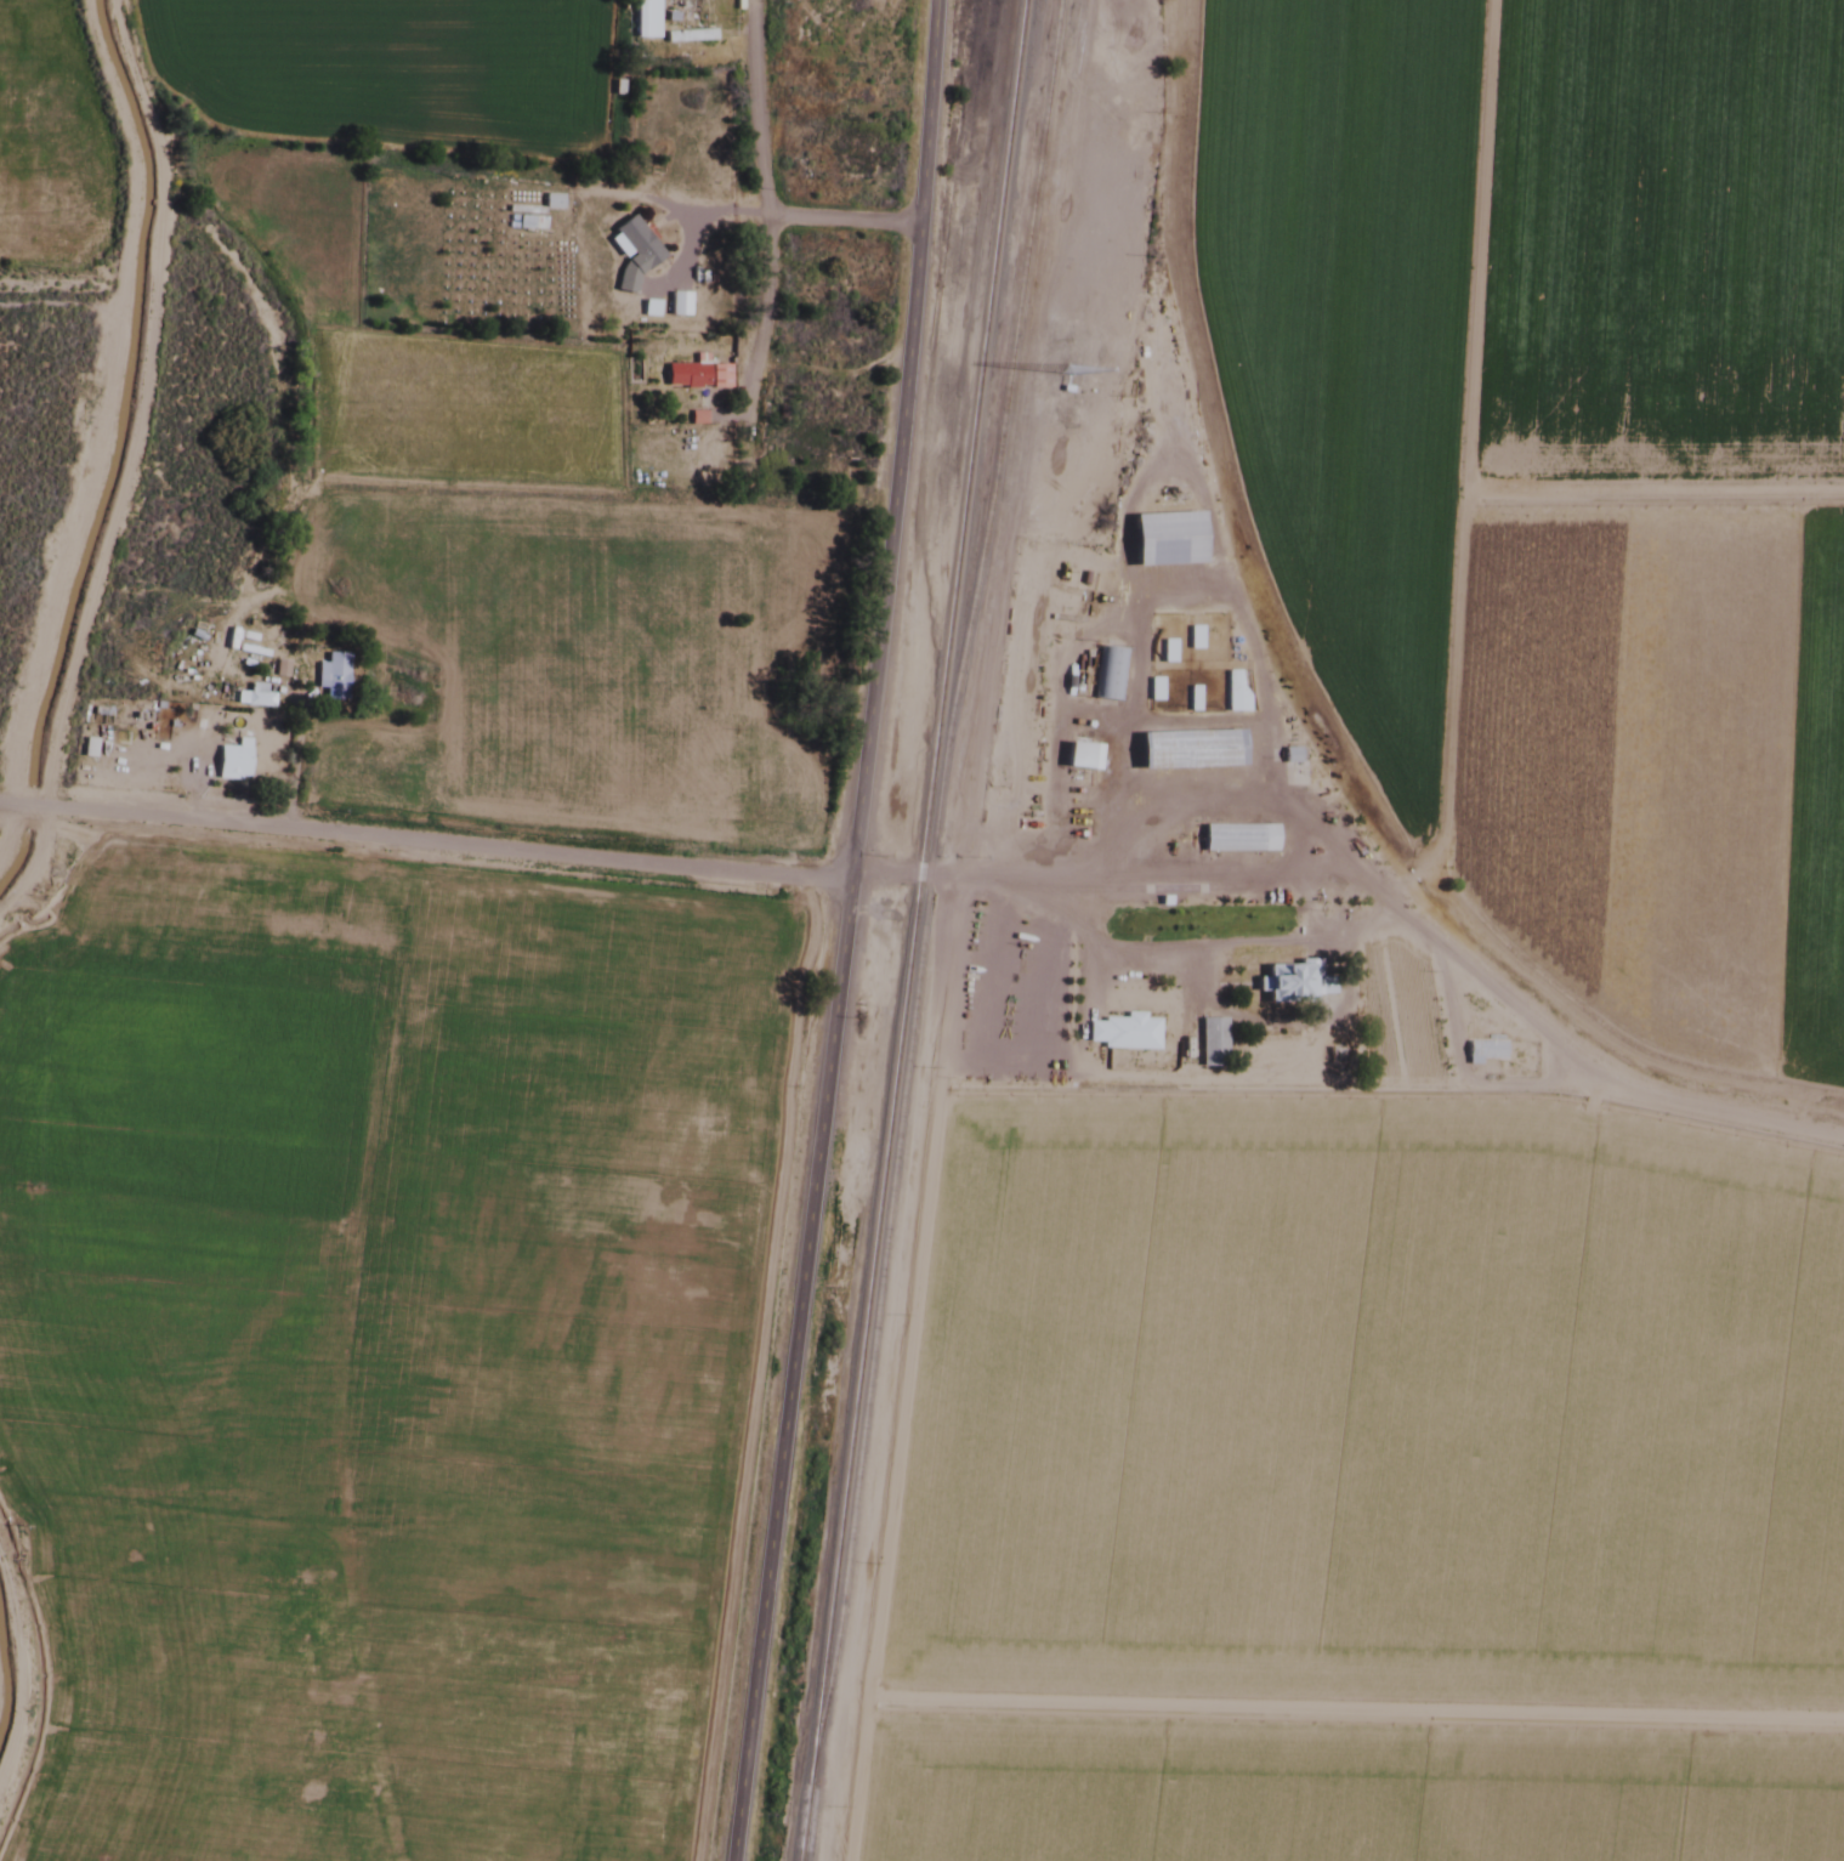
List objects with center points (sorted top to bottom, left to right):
building: (640, 18)
building: (675, 38)
road: (764, 108)
road: (921, 169)
road: (840, 220)
building: (632, 251)
road: (761, 272)
building: (677, 303)
railway: (935, 347)
building: (696, 375)
crop: (1562, 465)
building: (1164, 539)
building: (329, 674)
building: (1108, 675)
building: (1153, 690)
building: (1233, 692)
building: (144, 734)
building: (1187, 750)
building: (1079, 756)
building: (231, 760)
building: (1237, 839)
road: (981, 878)
railway: (925, 883)
railway: (909, 930)
building: (1292, 983)
building: (1124, 1032)
building: (1210, 1043)
building: (1483, 1053)
road: (822, 1099)

